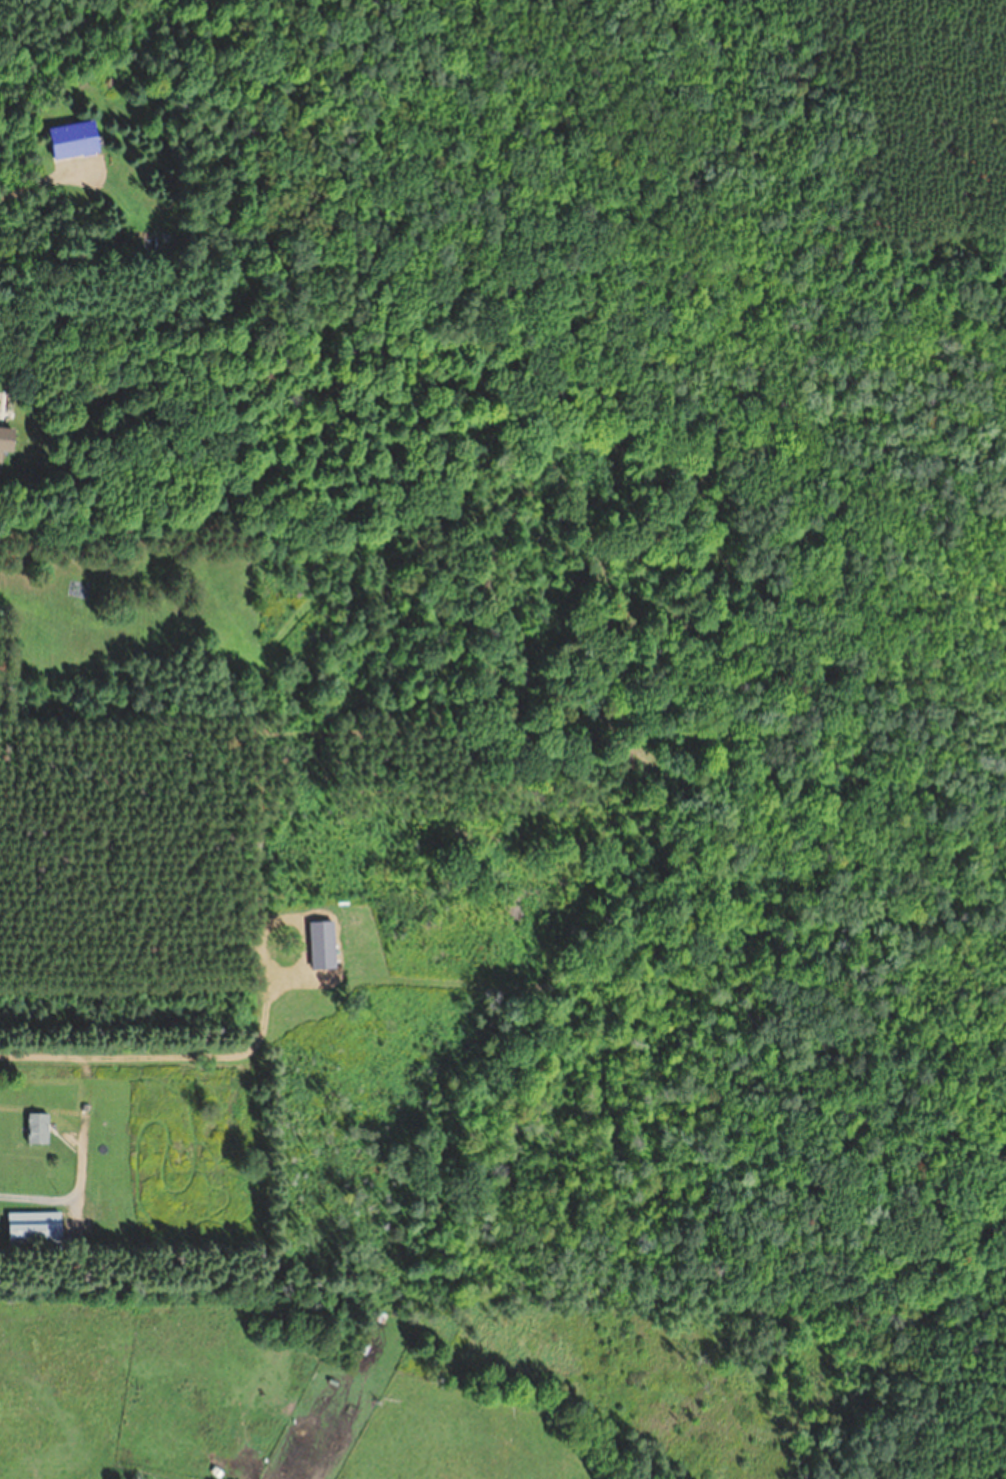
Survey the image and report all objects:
building: (75, 141)
building: (7, 442)
road: (84, 1099)
building: (38, 1128)
road: (38, 1197)
building: (36, 1227)

